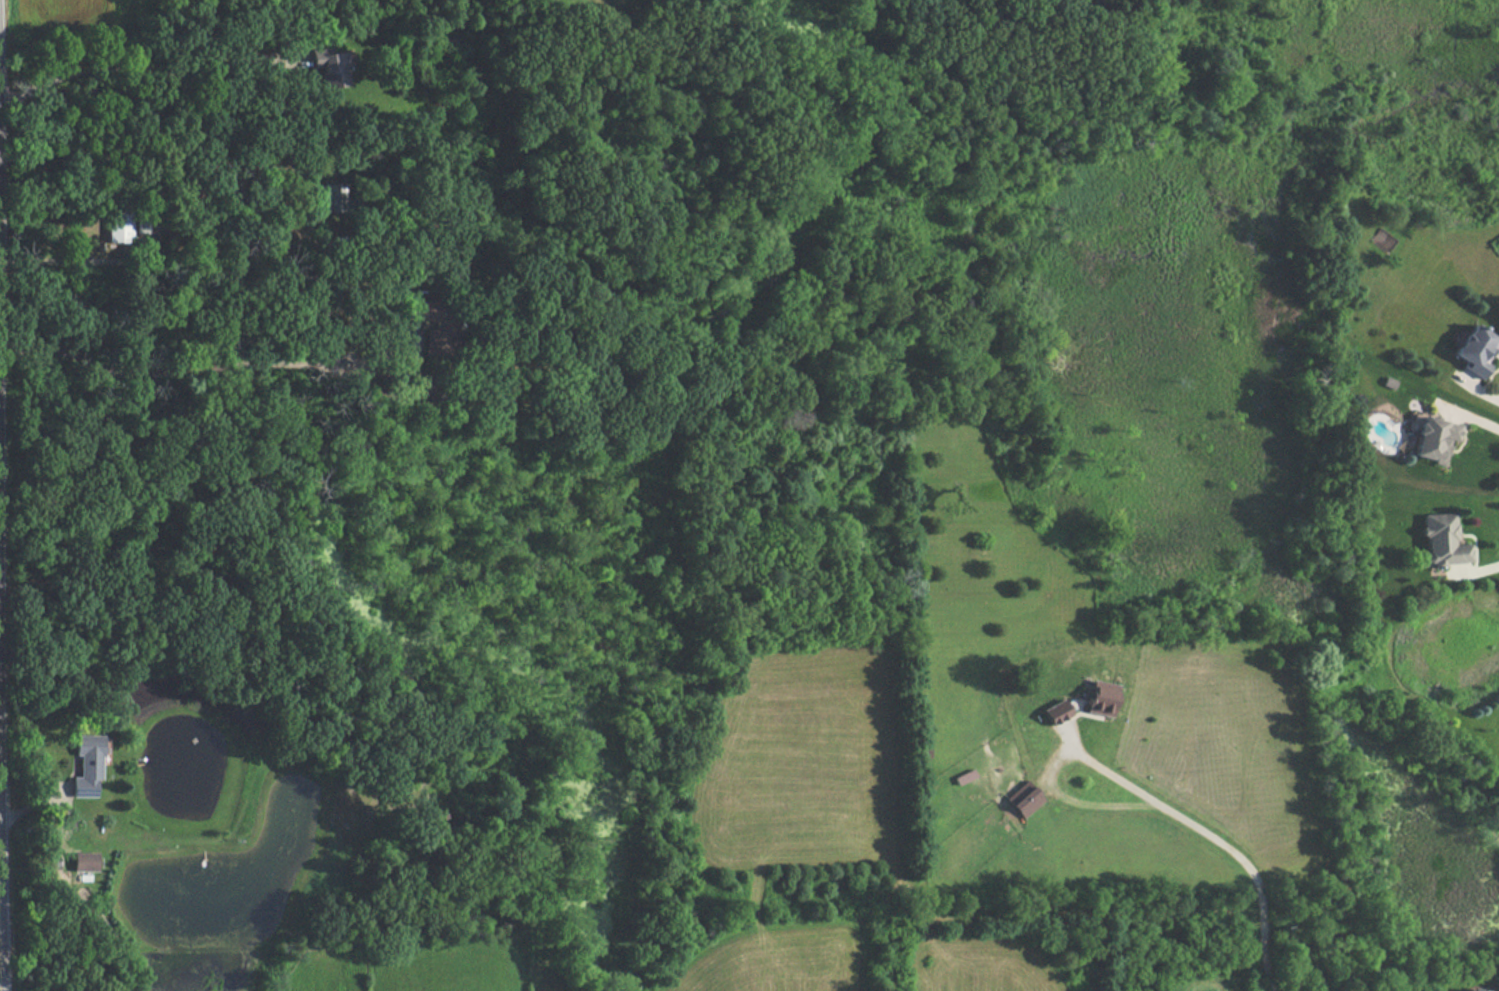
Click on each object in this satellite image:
road: (126, 67)
building: (130, 230)
road: (191, 257)
building: (1471, 351)
road: (203, 369)
road: (1472, 420)
building: (1428, 441)
building: (1439, 542)
building: (1095, 701)
building: (1050, 711)
building: (83, 767)
building: (1020, 801)
road: (1201, 846)

